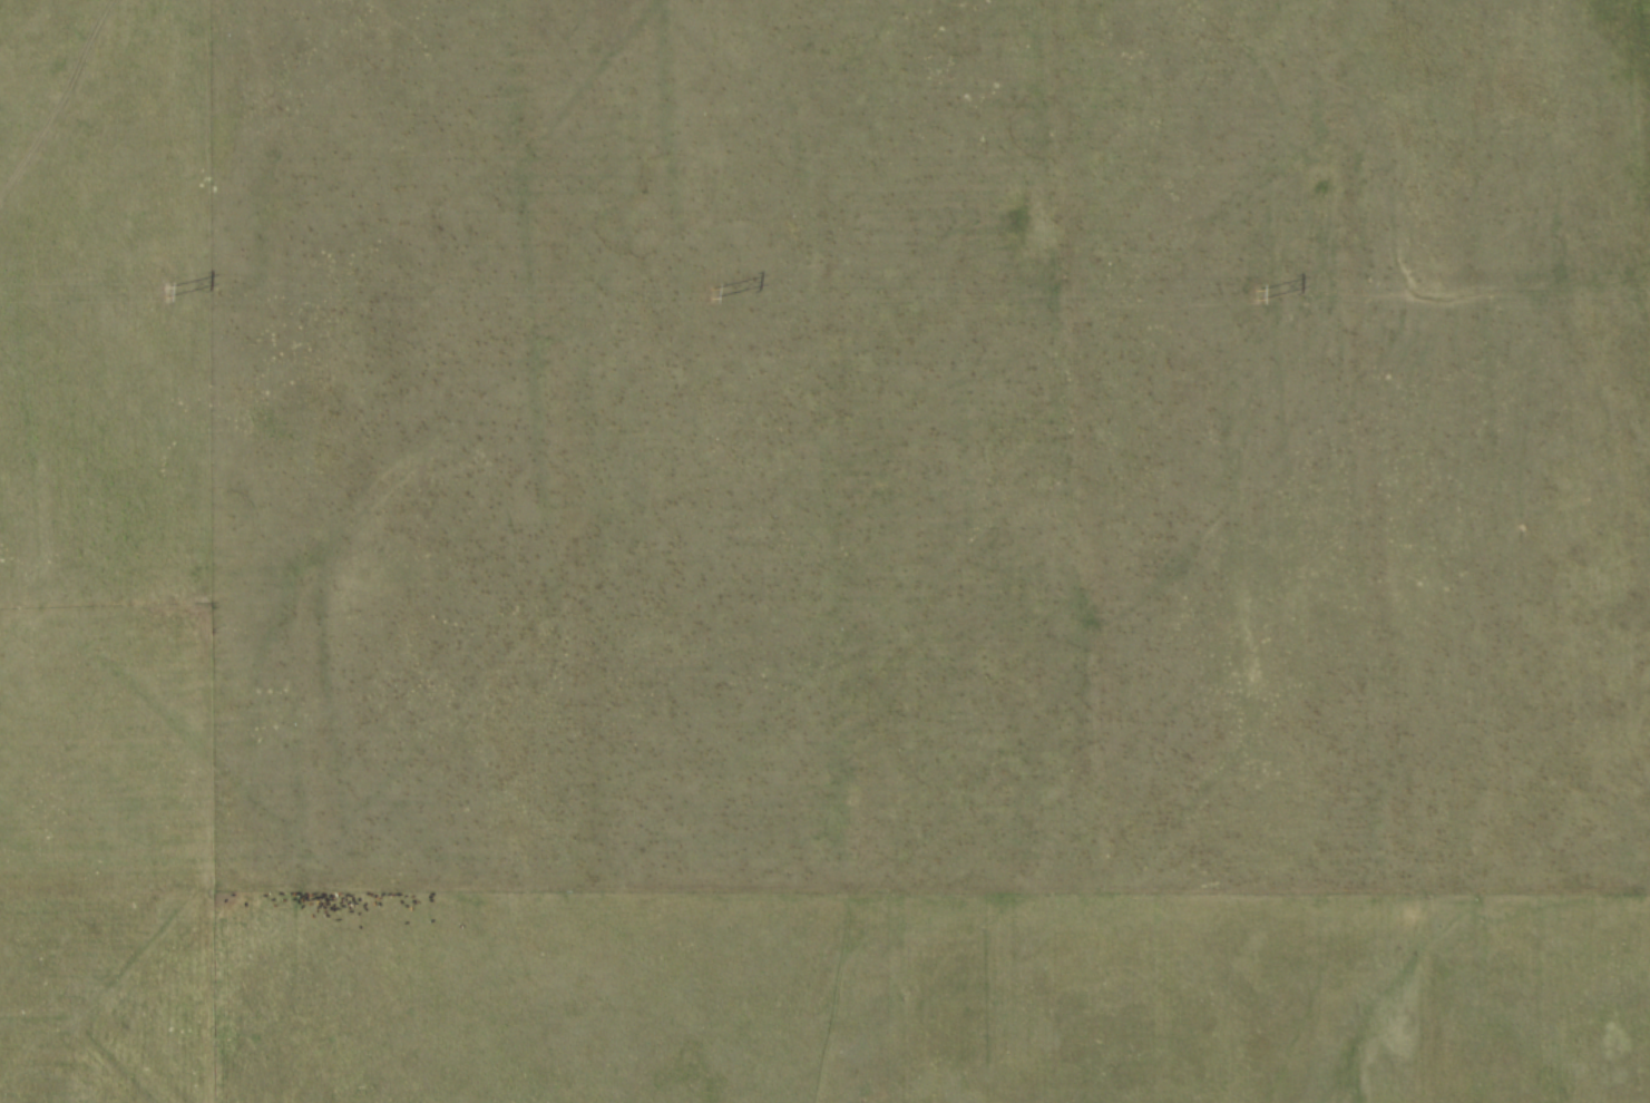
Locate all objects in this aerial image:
power tower: (166, 293)
power tower: (712, 295)
power tower: (1258, 296)

